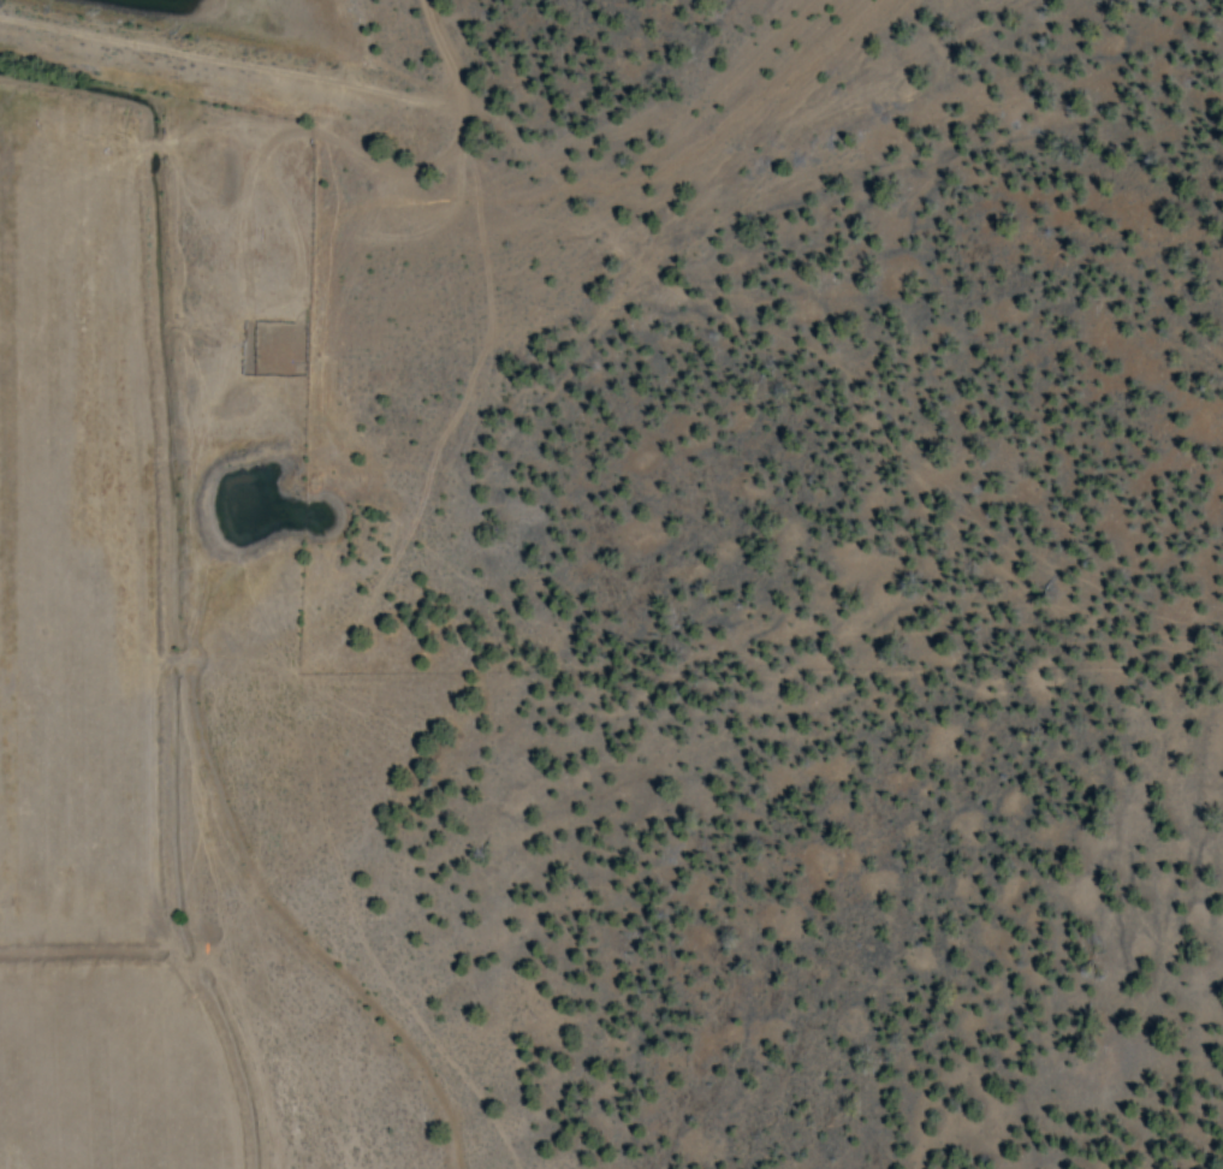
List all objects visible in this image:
dam: (213, 49)
road: (227, 61)
road: (360, 611)

